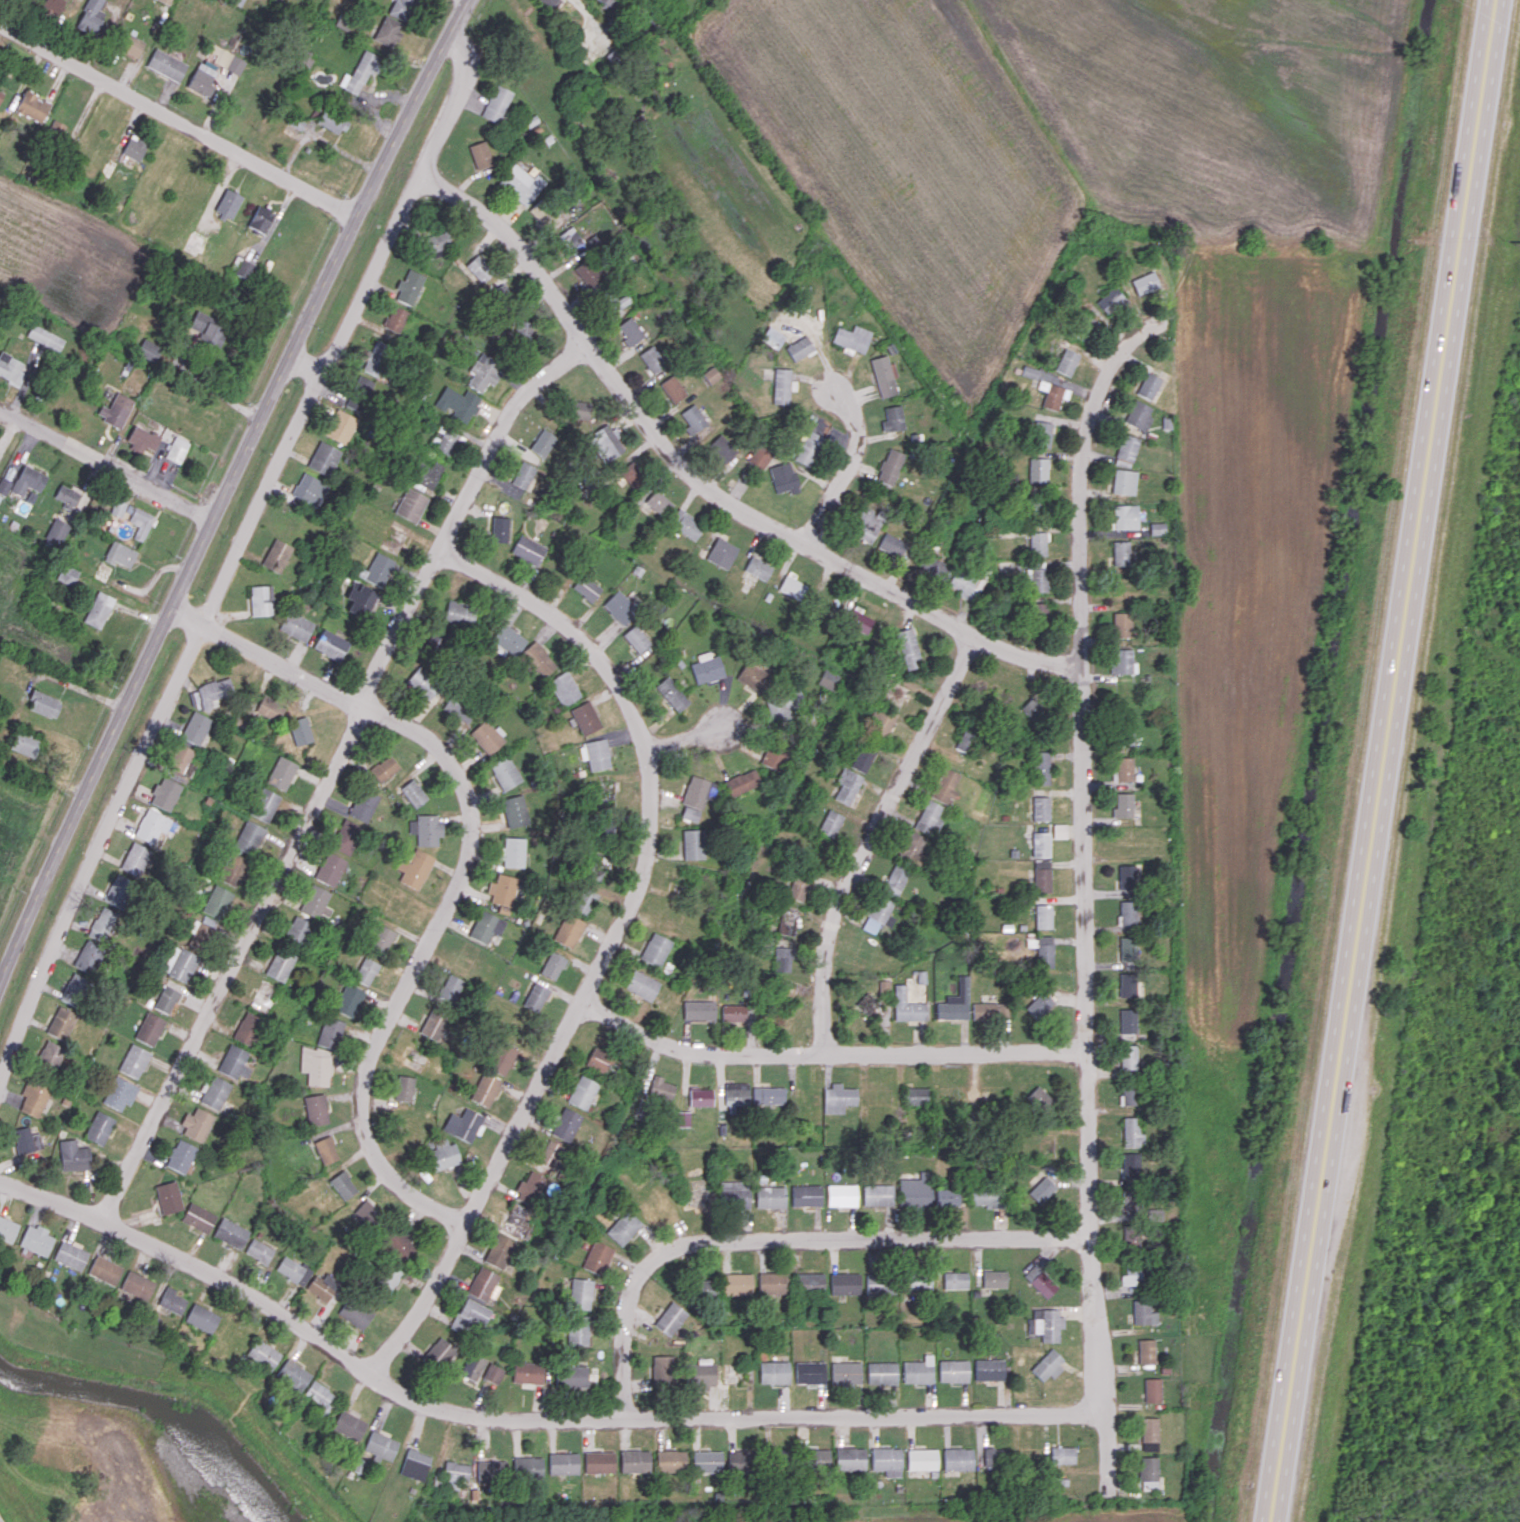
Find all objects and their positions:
road: (463, 105)
road: (410, 106)
road: (178, 119)
road: (403, 166)
crop: (1513, 200)
road: (206, 385)
road: (106, 459)
road: (847, 471)
road: (705, 484)
road: (175, 596)
crop: (11, 598)
road: (200, 630)
road: (687, 739)
road: (1385, 761)
road: (335, 771)
road: (873, 837)
crop: (16, 850)
road: (467, 865)
road: (1086, 890)
road: (615, 941)
road: (831, 1055)
road: (786, 1238)
road: (522, 1417)

